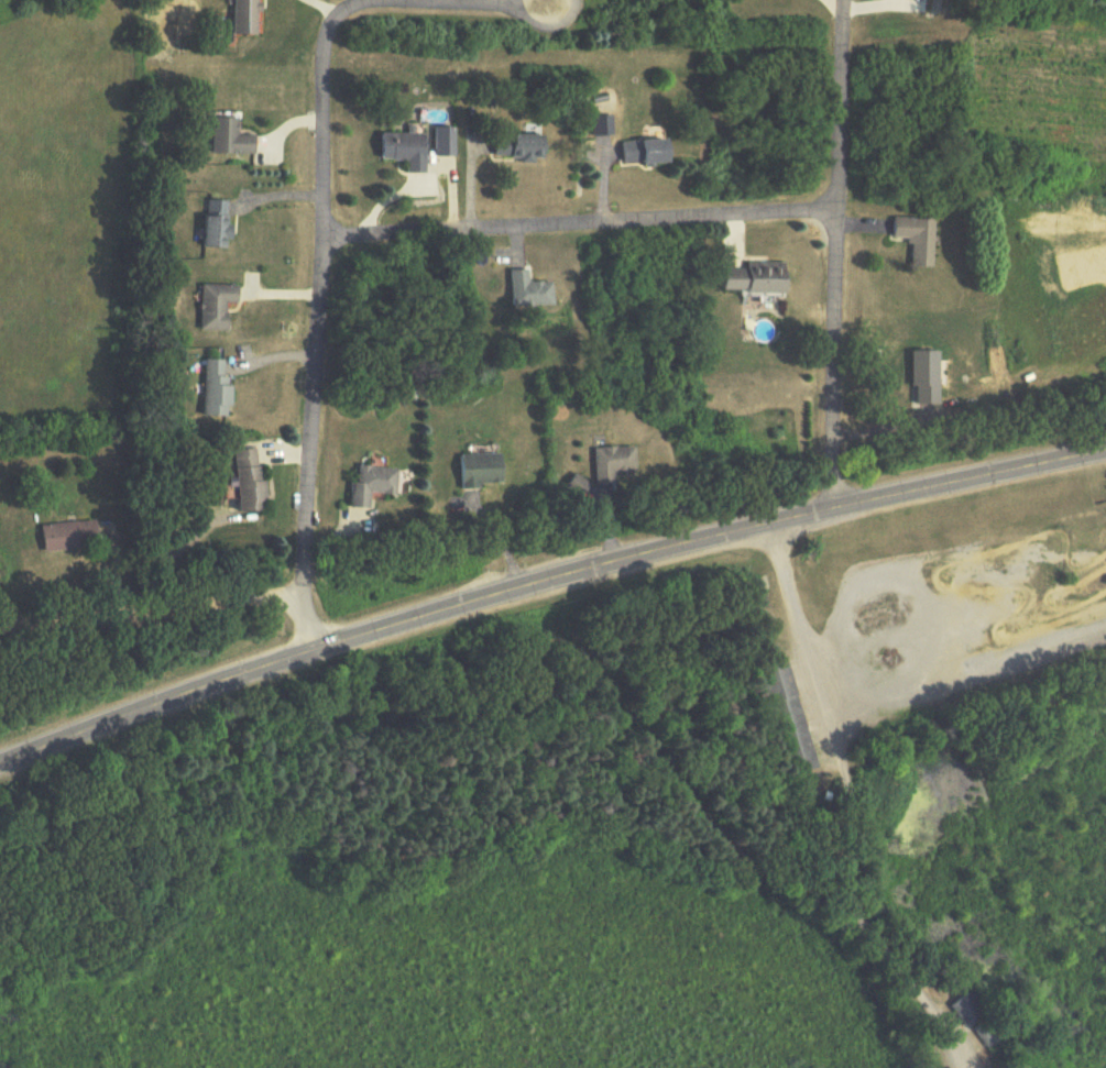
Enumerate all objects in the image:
building: (240, 16)
road: (548, 30)
building: (600, 124)
building: (221, 134)
building: (441, 142)
building: (514, 146)
building: (401, 150)
building: (639, 151)
road: (582, 222)
building: (211, 225)
building: (908, 239)
road: (839, 253)
road: (324, 278)
building: (753, 279)
building: (522, 289)
building: (213, 306)
building: (212, 387)
building: (606, 463)
building: (473, 470)
building: (247, 480)
building: (364, 484)
road: (502, 533)
building: (65, 535)
road: (546, 581)
road: (151, 610)
building: (781, 715)
road: (842, 801)

